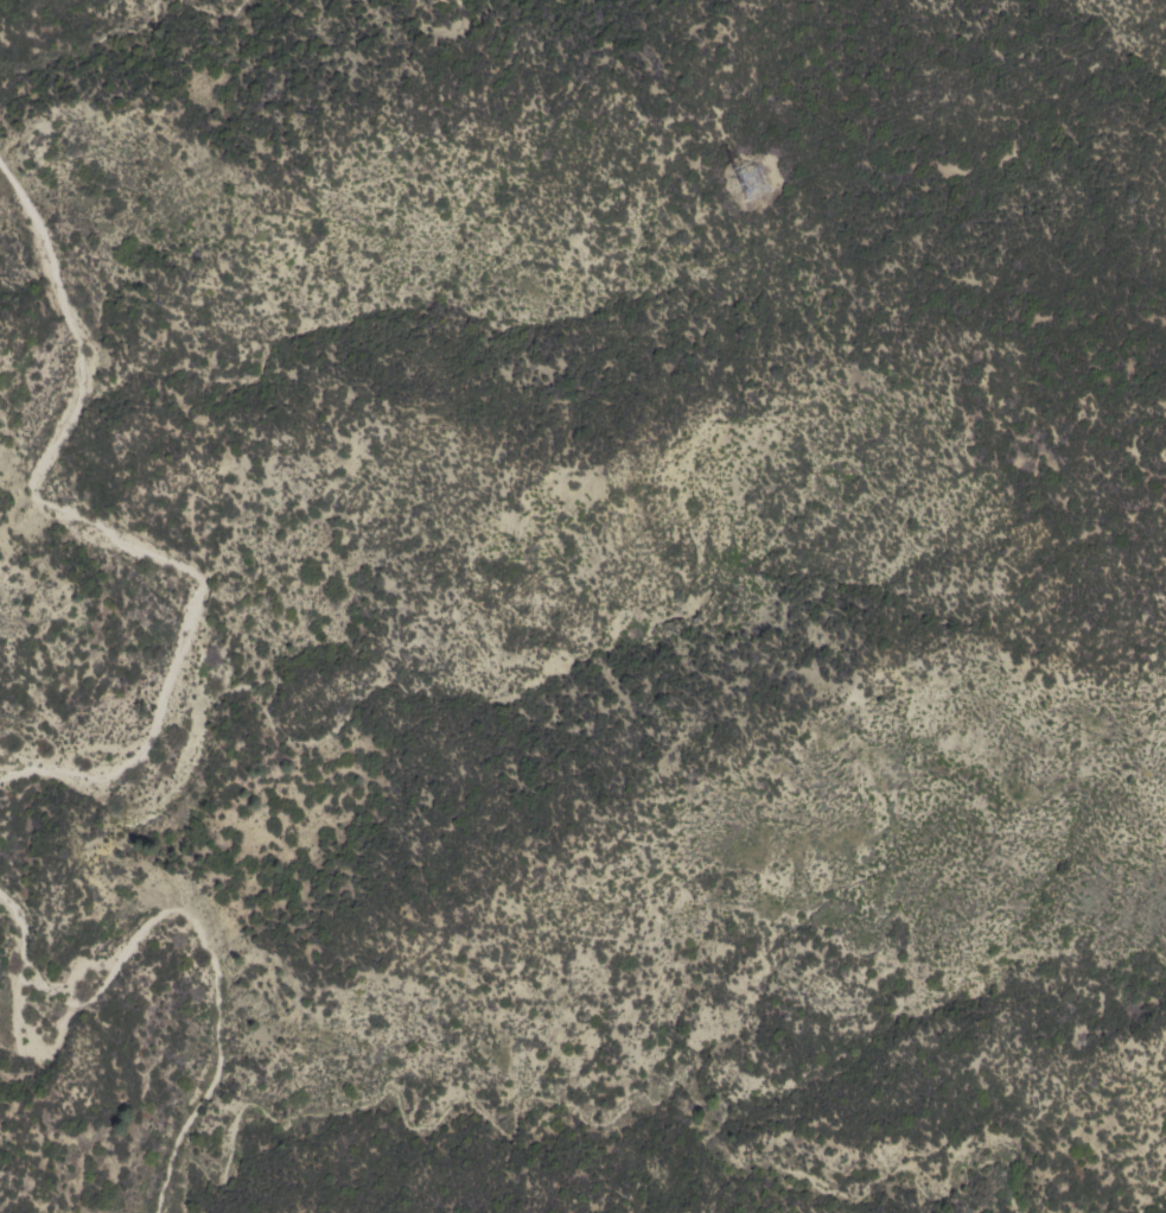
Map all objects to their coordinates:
power tower: (760, 161)

